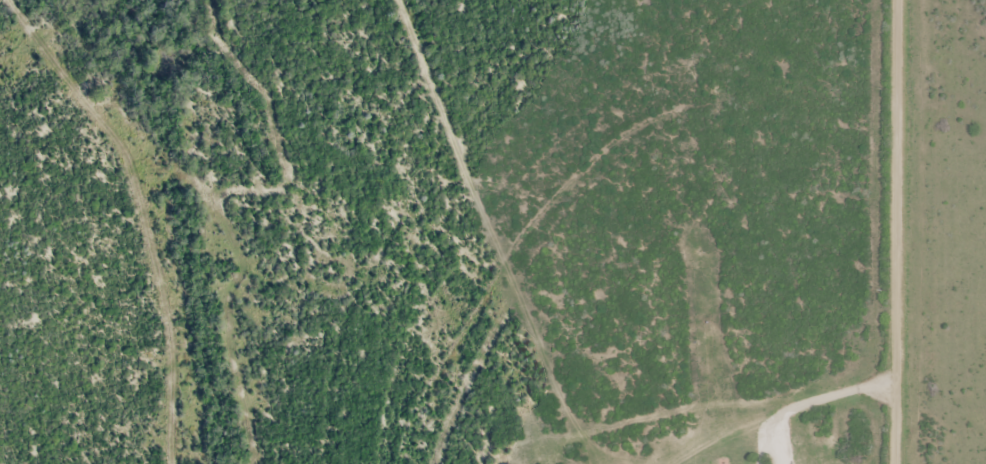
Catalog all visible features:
road: (896, 232)

